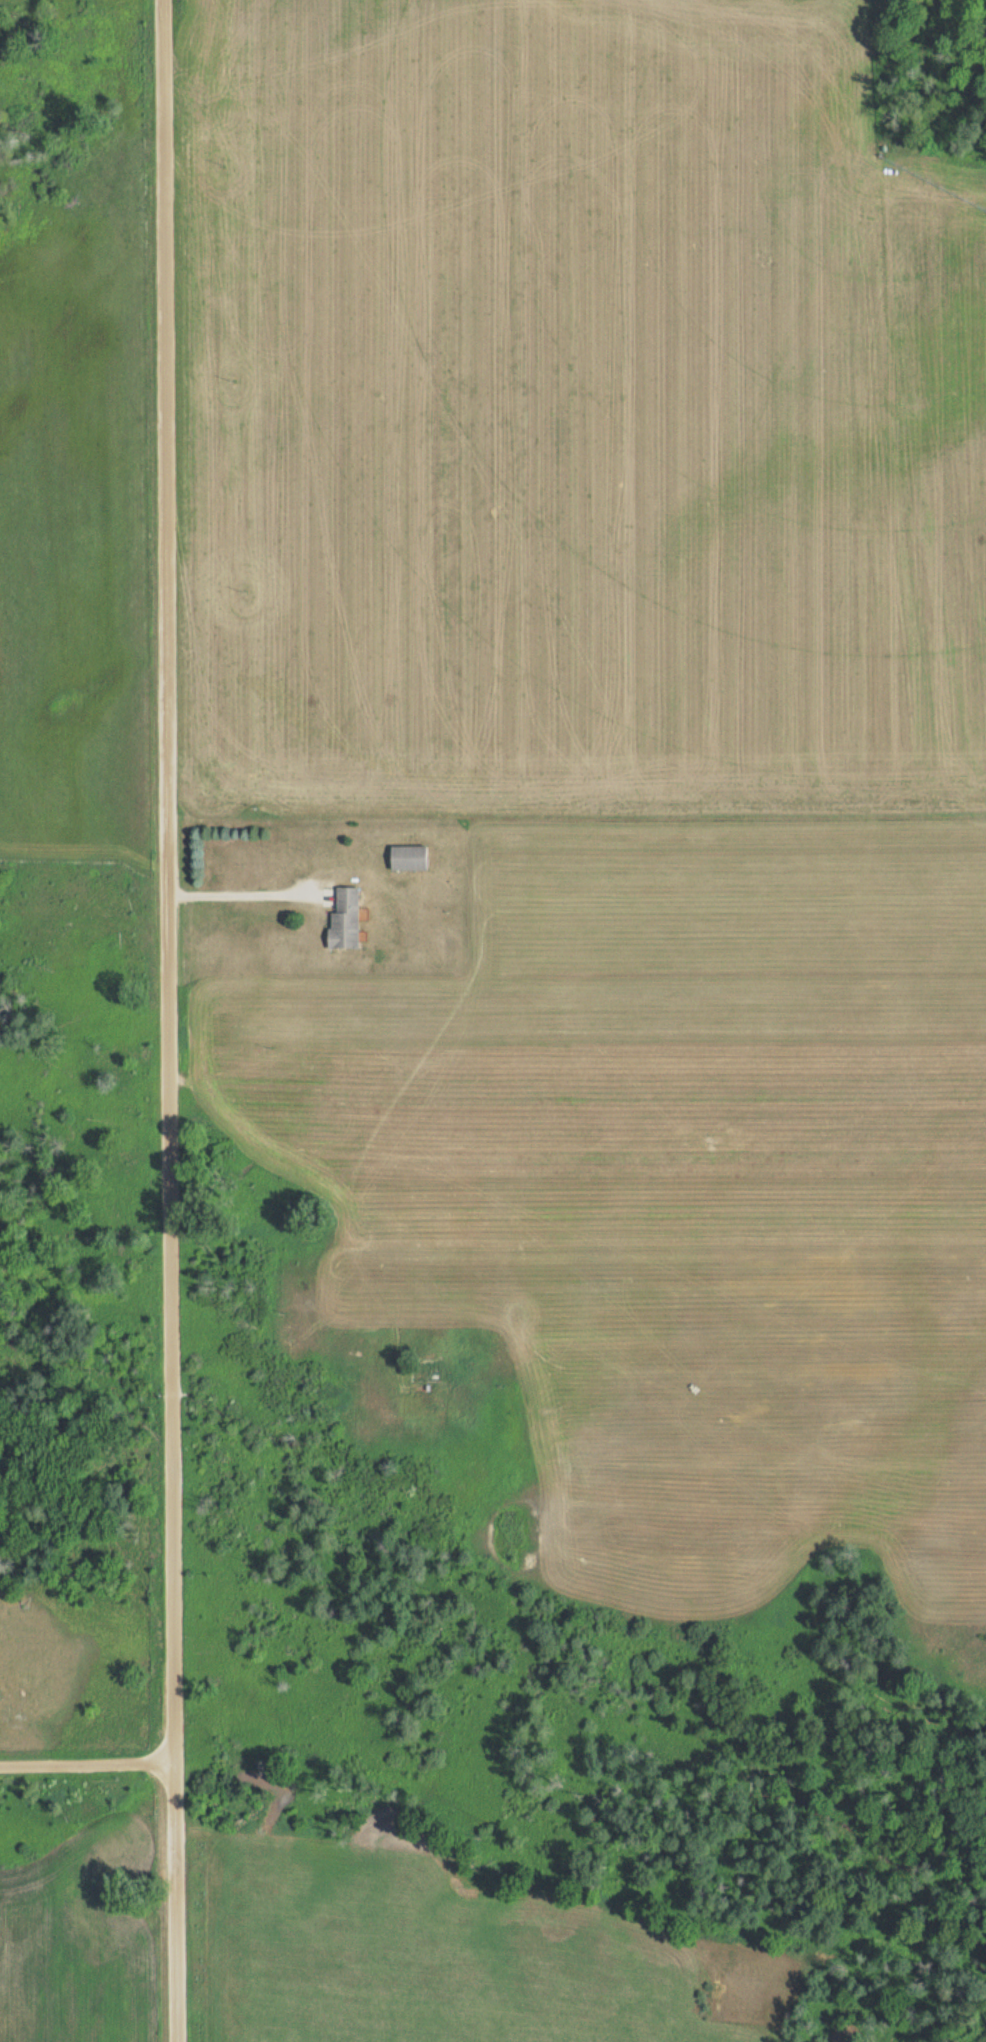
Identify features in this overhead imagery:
building: (407, 857)
road: (168, 881)
road: (245, 895)
building: (344, 918)
road: (88, 1764)
road: (177, 1903)

